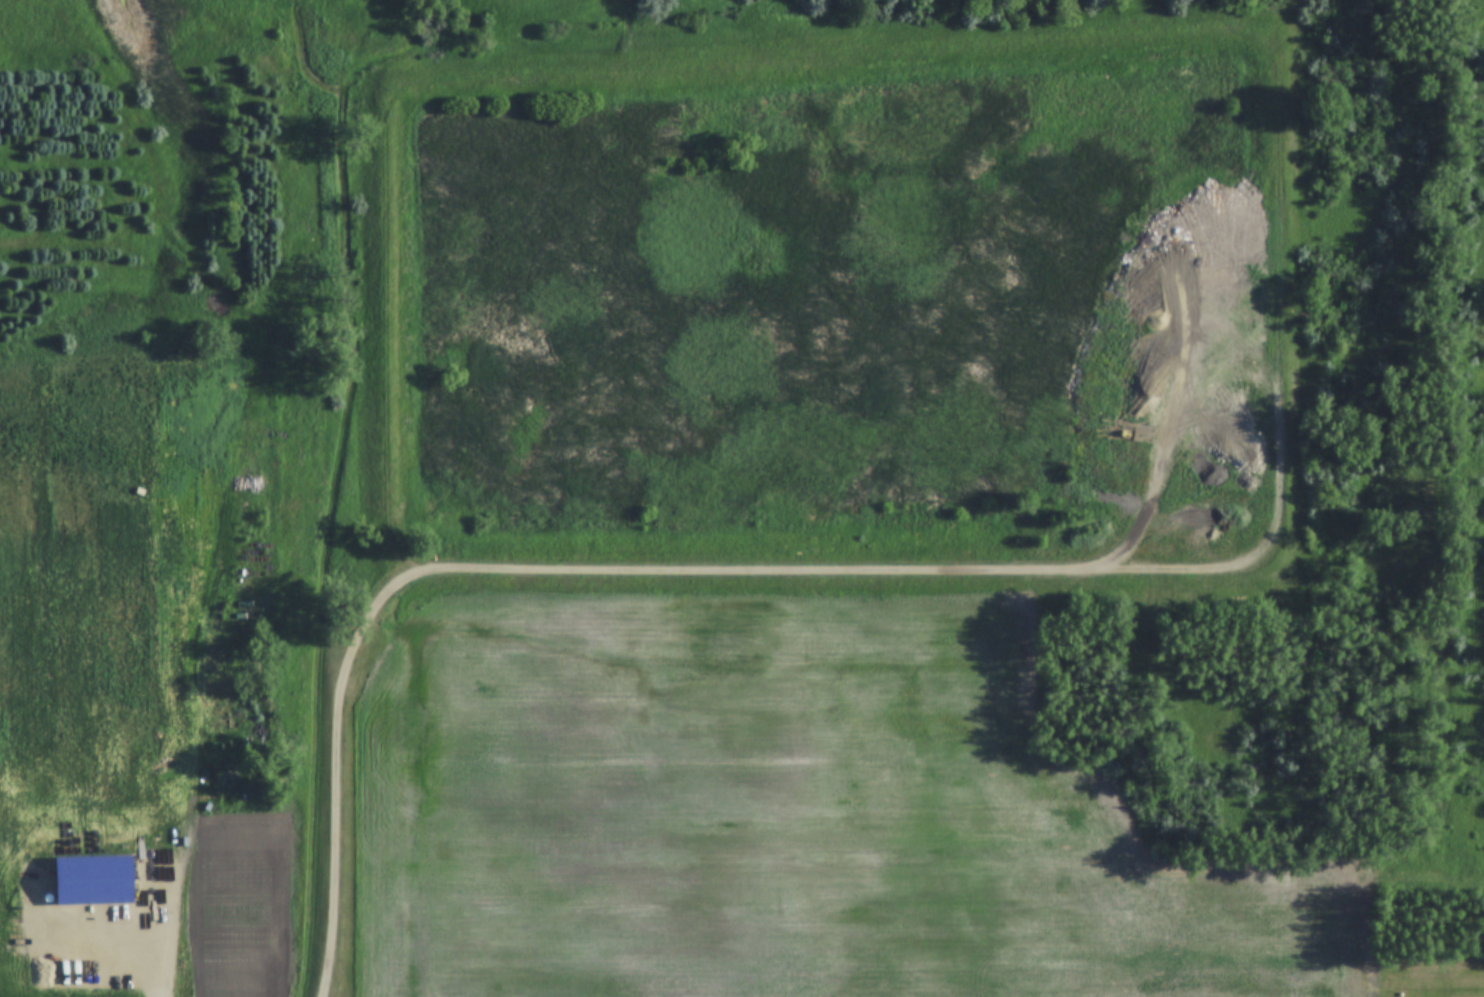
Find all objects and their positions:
road: (626, 33)
road: (813, 54)
road: (1278, 492)
road: (529, 568)

